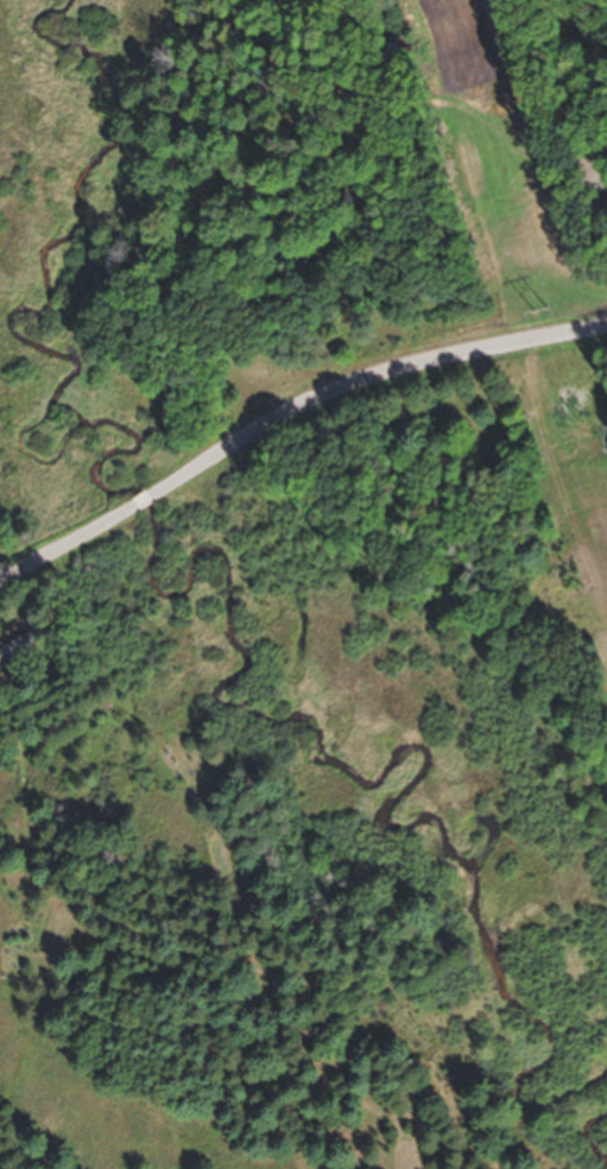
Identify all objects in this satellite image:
power tower: (513, 317)
road: (292, 416)
building: (13, 661)

